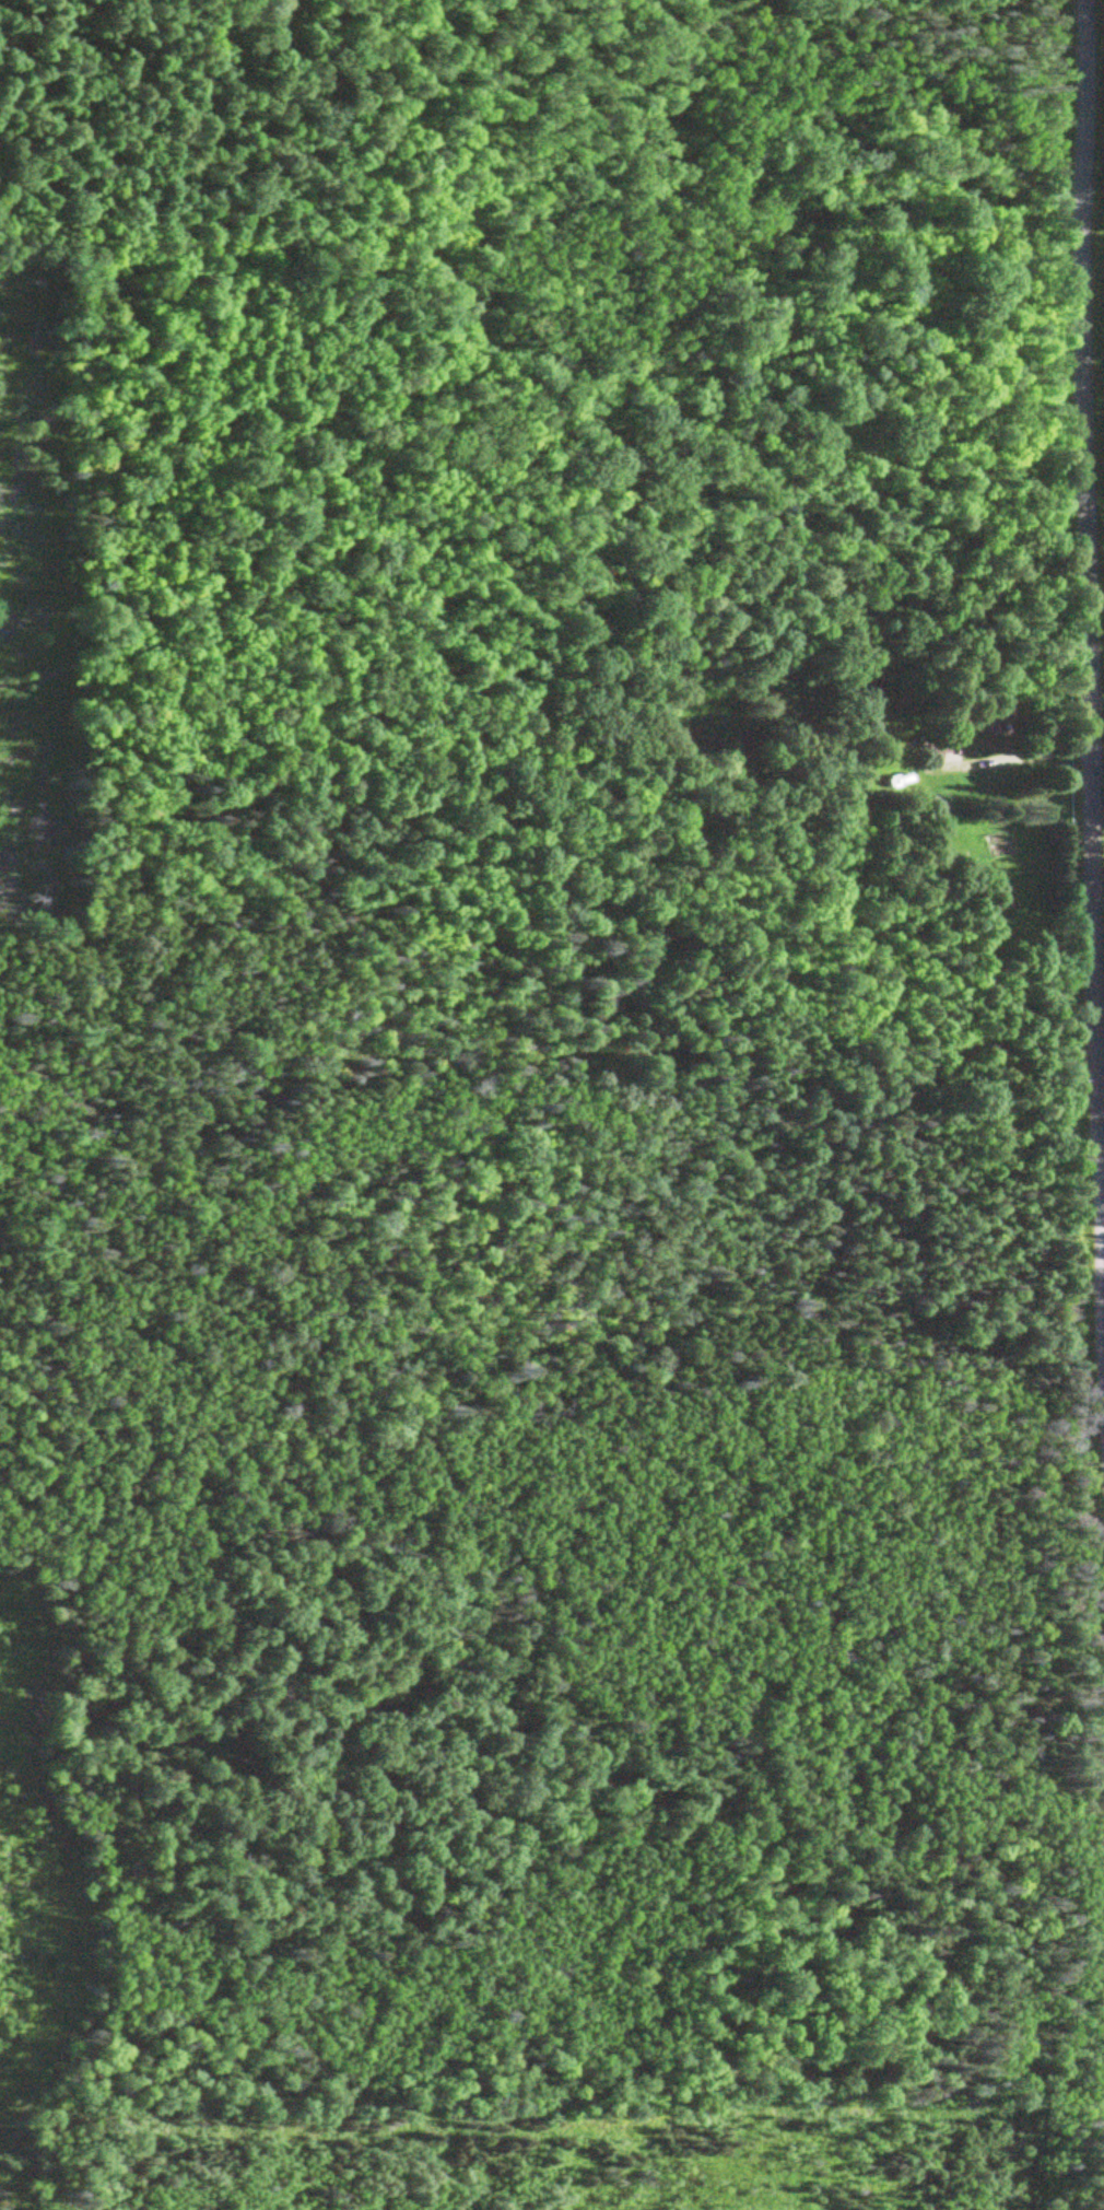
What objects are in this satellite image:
road: (1085, 651)
building: (943, 742)
road: (1010, 757)
road: (1102, 1189)

